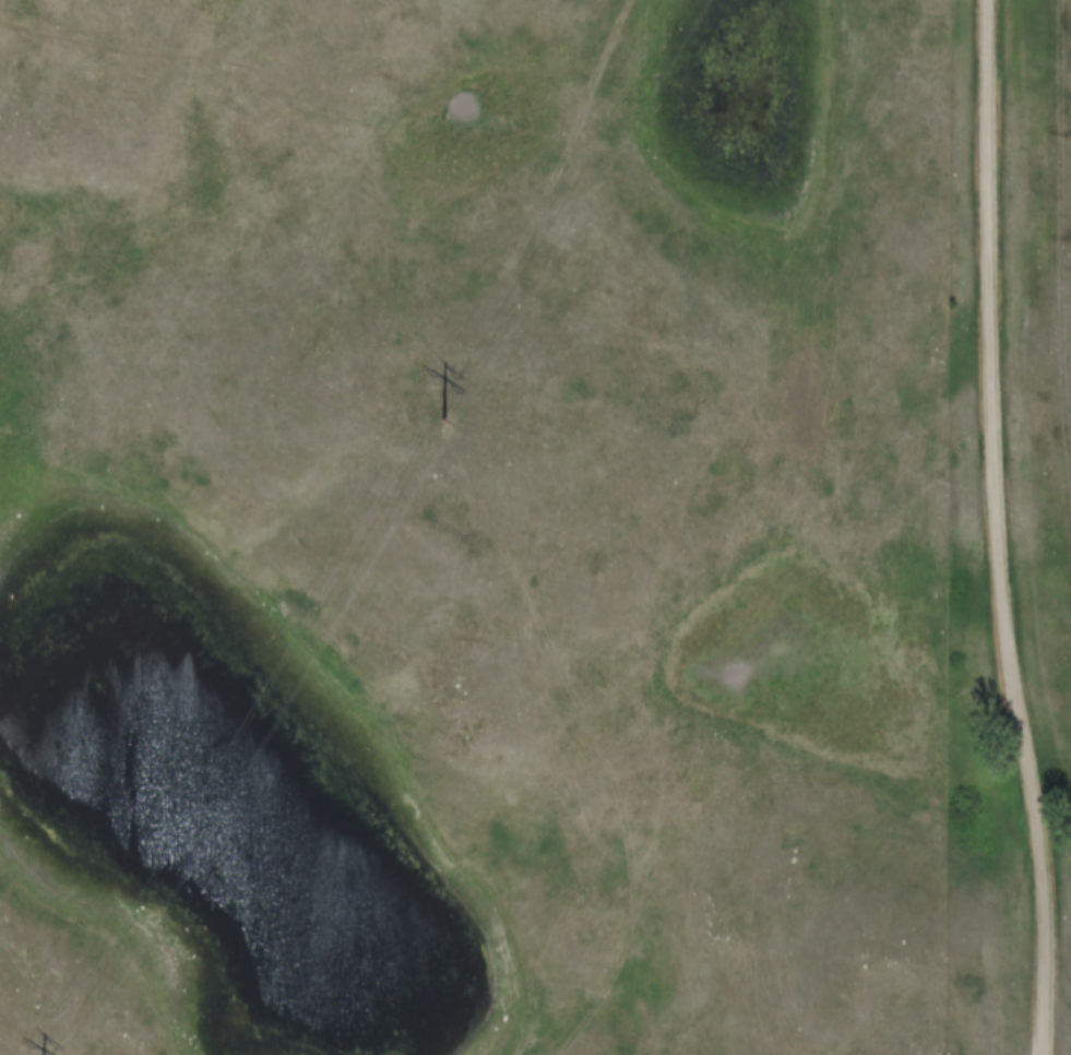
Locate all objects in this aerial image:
power tower: (436, 405)
road: (999, 529)

